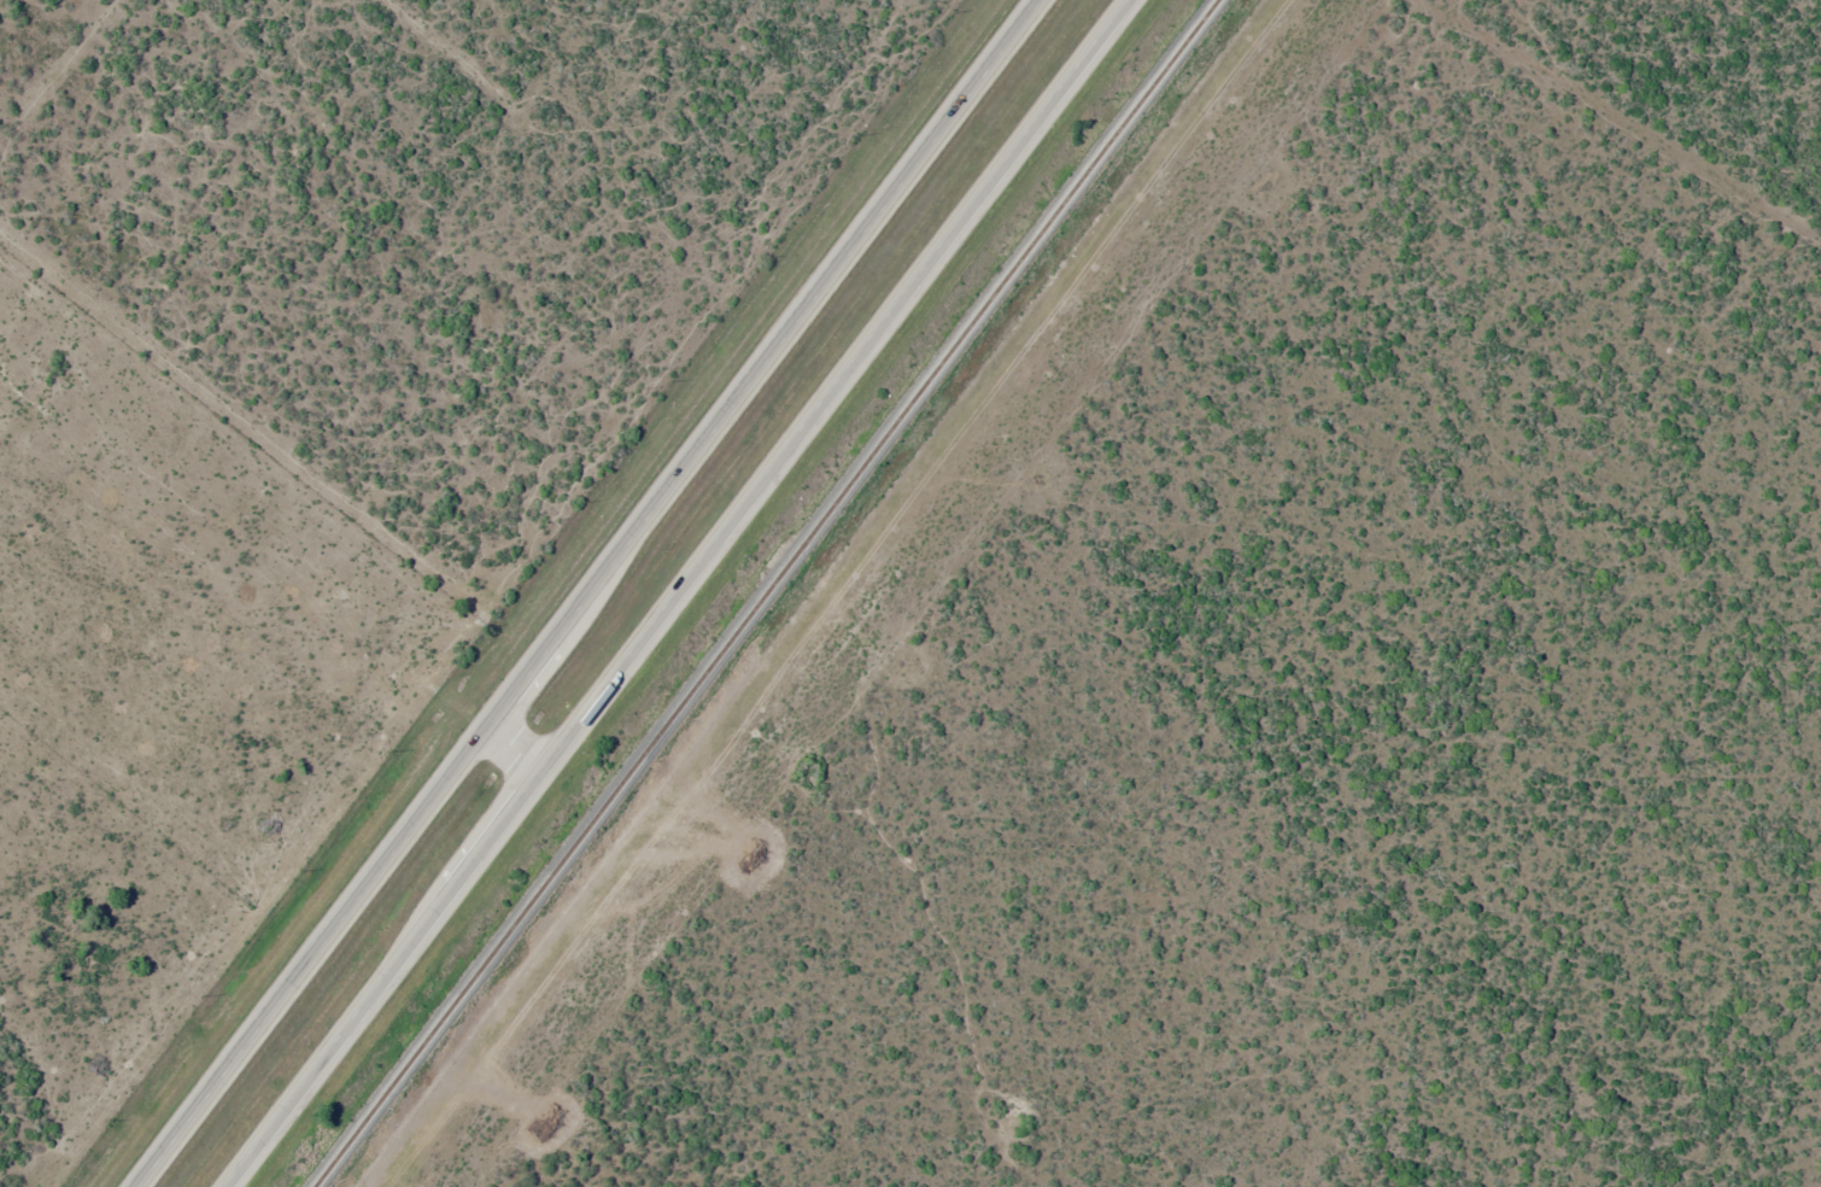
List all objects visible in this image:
railway: (766, 592)
road: (581, 593)
road: (690, 593)

